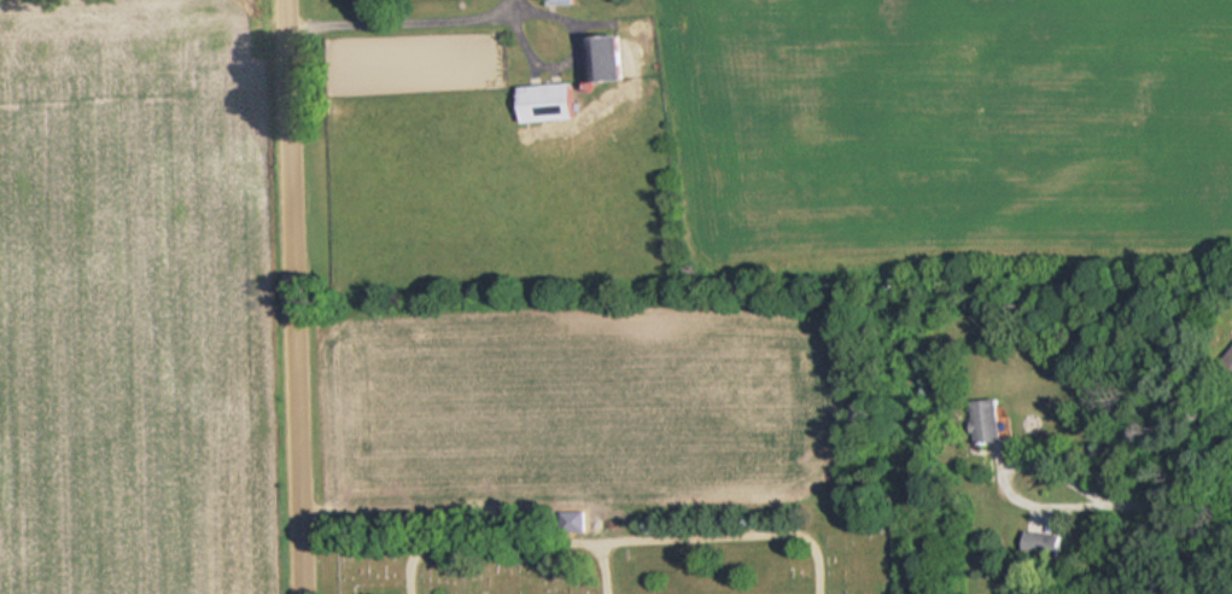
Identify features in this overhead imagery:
building: (608, 58)
building: (551, 101)
road: (291, 297)
building: (992, 420)
park: (619, 554)

